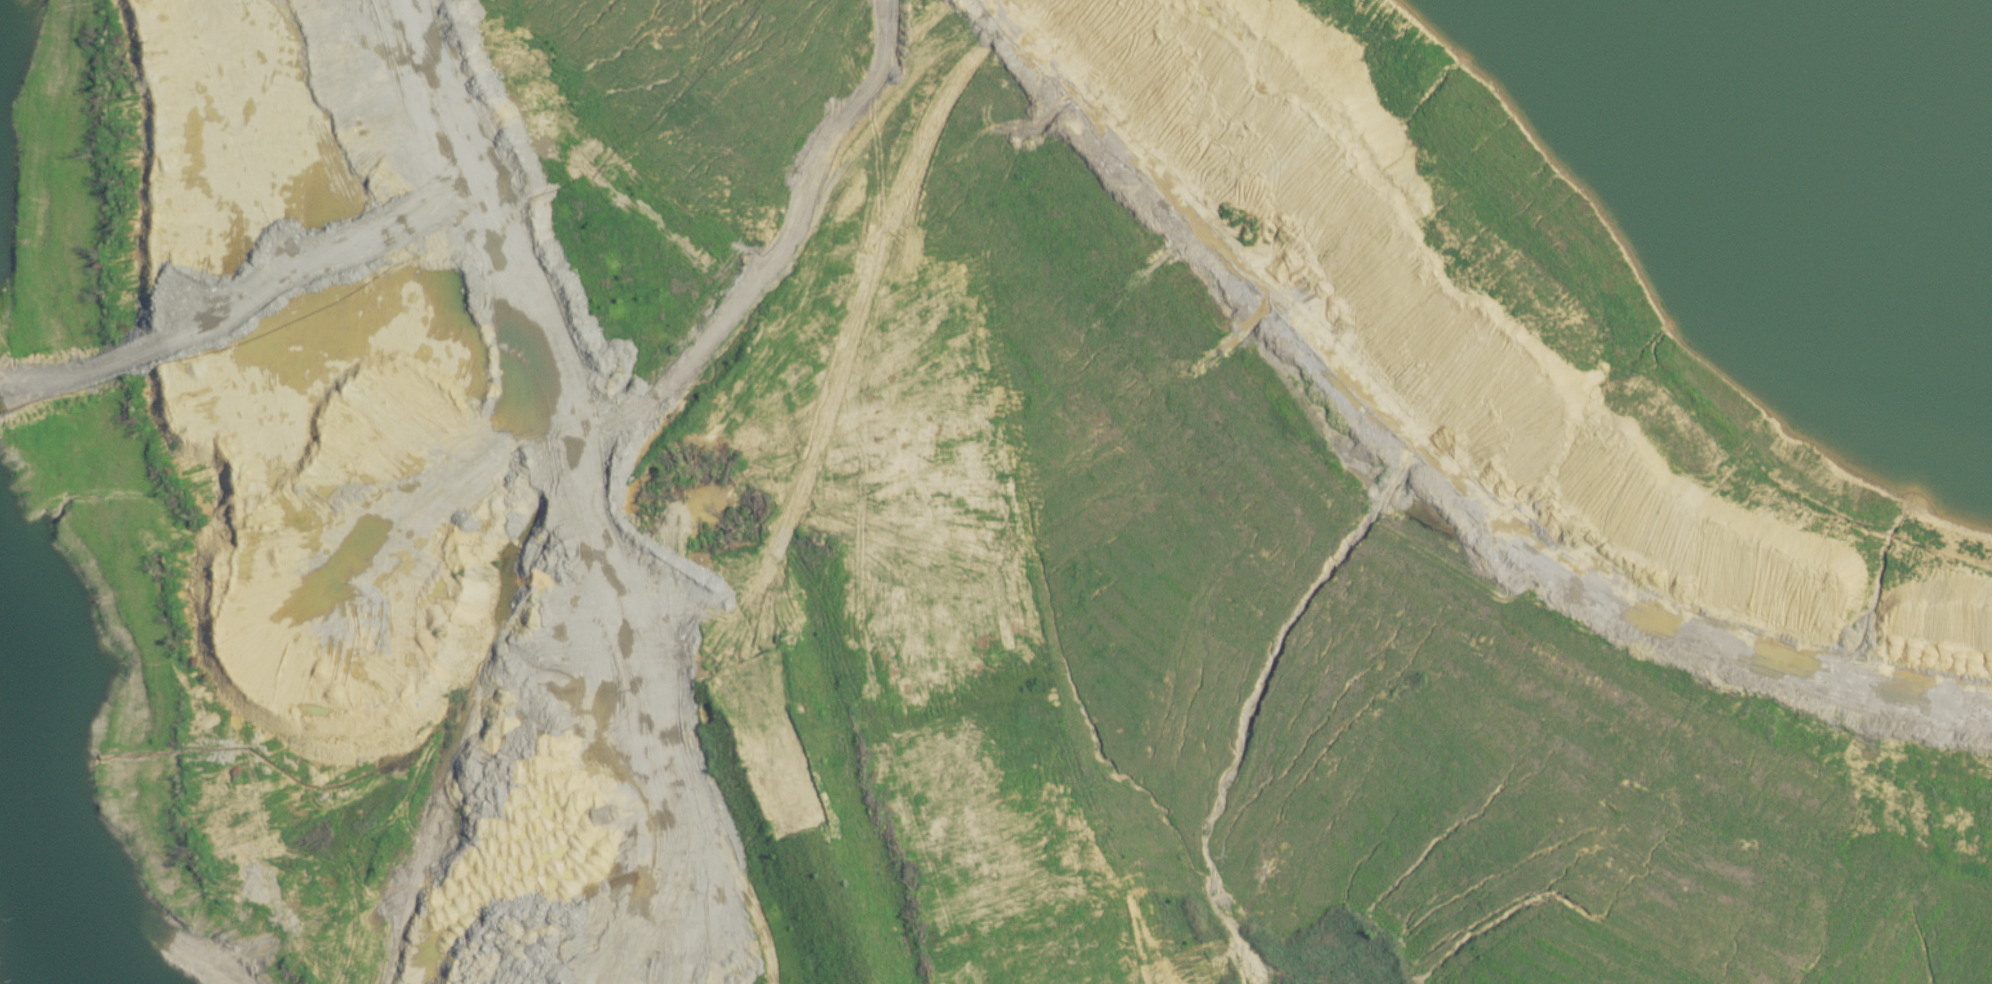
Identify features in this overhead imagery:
quarry: (948, 519)

